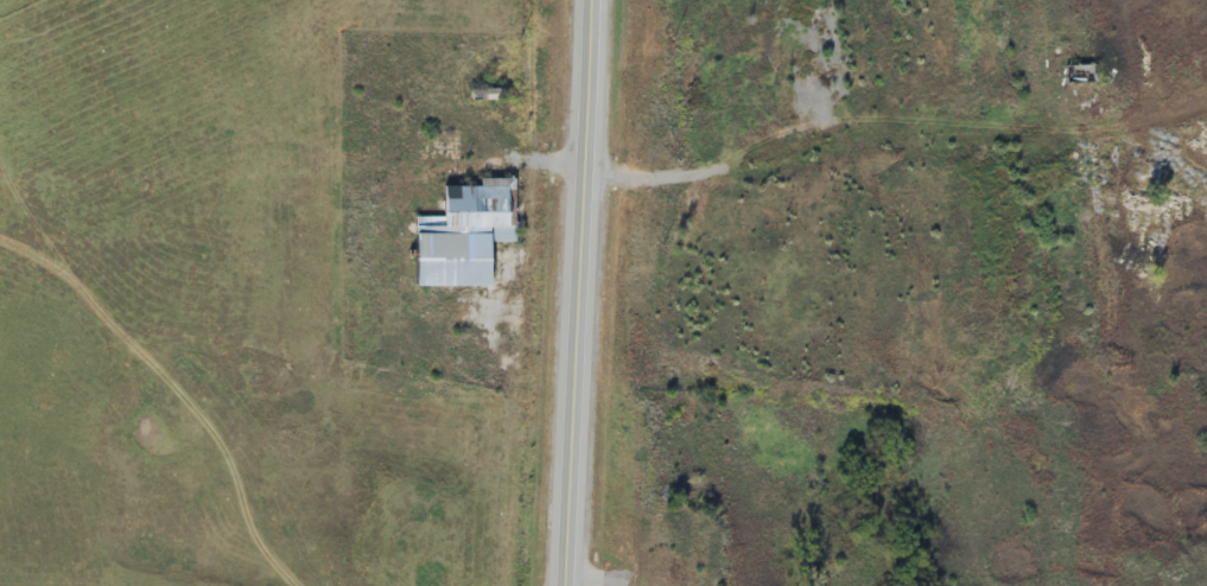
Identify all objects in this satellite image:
building: (1078, 72)
building: (462, 234)
road: (557, 292)
building: (668, 569)

